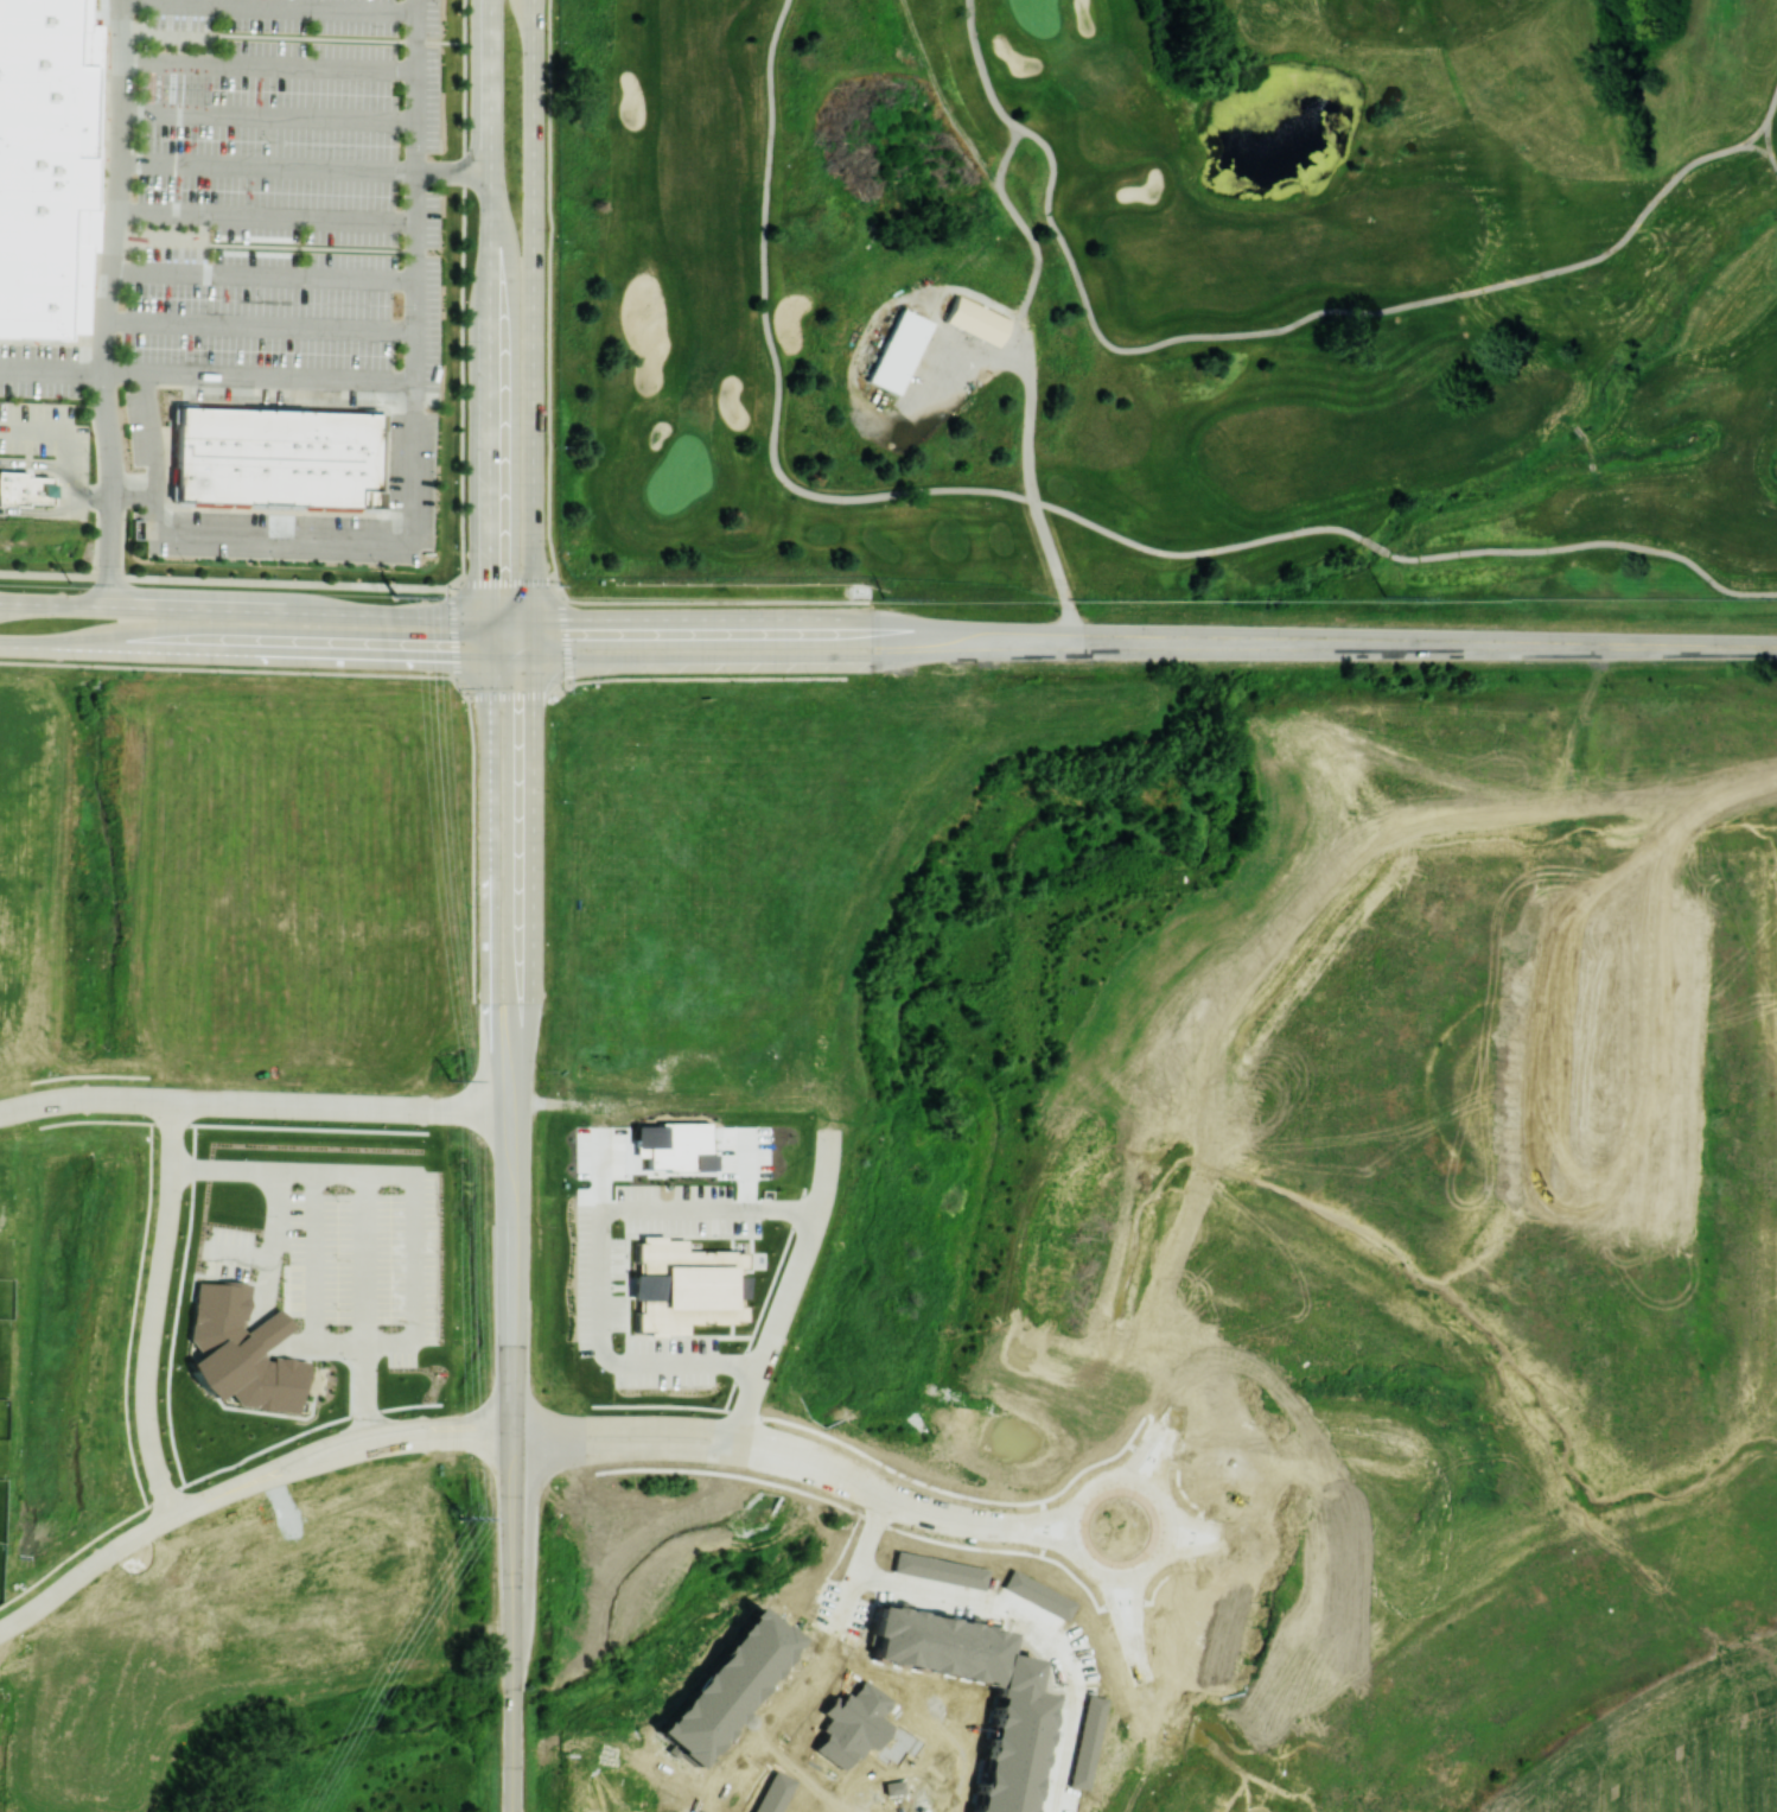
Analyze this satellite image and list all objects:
road: (269, 5)
park: (1170, 19)
road: (293, 36)
road: (270, 65)
road: (125, 81)
road: (465, 85)
road: (270, 115)
building: (46, 164)
road: (307, 167)
parking lot: (289, 203)
road: (266, 217)
road: (265, 244)
road: (113, 268)
road: (263, 274)
building: (227, 287)
road: (548, 288)
building: (288, 319)
building: (976, 319)
road: (259, 322)
road: (490, 330)
road: (534, 330)
building: (227, 346)
building: (898, 350)
parking lot: (39, 370)
road: (51, 371)
road: (257, 376)
road: (464, 376)
parking lot: (45, 433)
parking lot: (145, 433)
road: (66, 435)
building: (282, 454)
road: (33, 462)
road: (409, 476)
building: (25, 487)
road: (114, 489)
road: (89, 494)
road: (133, 494)
road: (32, 510)
parking lot: (325, 514)
traffic signals: (492, 570)
road: (230, 580)
road: (508, 580)
power tower: (71, 583)
road: (560, 587)
power tower: (396, 595)
power tower: (1386, 595)
power tower: (885, 597)
road: (714, 600)
road: (244, 610)
road: (512, 618)
traffic signals: (575, 618)
road: (454, 632)
road: (554, 642)
road: (246, 654)
traffic signals: (444, 660)
road: (514, 661)
road: (228, 668)
road: (709, 680)
road: (461, 688)
road: (563, 691)
road: (510, 694)
traffic signals: (534, 705)
road: (534, 740)
road: (473, 847)
road: (493, 885)
road: (526, 993)
power tower: (451, 1079)
road: (88, 1096)
road: (163, 1099)
road: (348, 1106)
road: (13, 1110)
building: (673, 1144)
road: (828, 1155)
road: (364, 1207)
road: (498, 1217)
road: (524, 1250)
road: (599, 1253)
building: (674, 1284)
building: (738, 1285)
road: (782, 1303)
road: (152, 1309)
building: (241, 1349)
road: (492, 1420)
road: (441, 1422)
road: (527, 1424)
road: (663, 1426)
road: (521, 1428)
road: (331, 1438)
road: (752, 1438)
road: (732, 1439)
road: (442, 1443)
road: (530, 1445)
road: (681, 1449)
road: (1142, 1452)
road: (1160, 1460)
road: (333, 1461)
road: (828, 1467)
road: (1152, 1490)
road: (212, 1498)
power tower: (460, 1517)
road: (945, 1517)
road: (1040, 1522)
road: (1195, 1525)
road: (1066, 1533)
road: (1044, 1537)
road: (1195, 1538)
road: (122, 1551)
road: (860, 1558)
road: (1088, 1570)
road: (1123, 1579)
road: (37, 1610)
road: (1133, 1616)
road: (1120, 1620)
road: (1038, 1629)
road: (1, 1634)
road: (486, 1664)
road: (515, 1667)
road: (1153, 1681)
road: (1240, 1770)
road: (1249, 1799)

